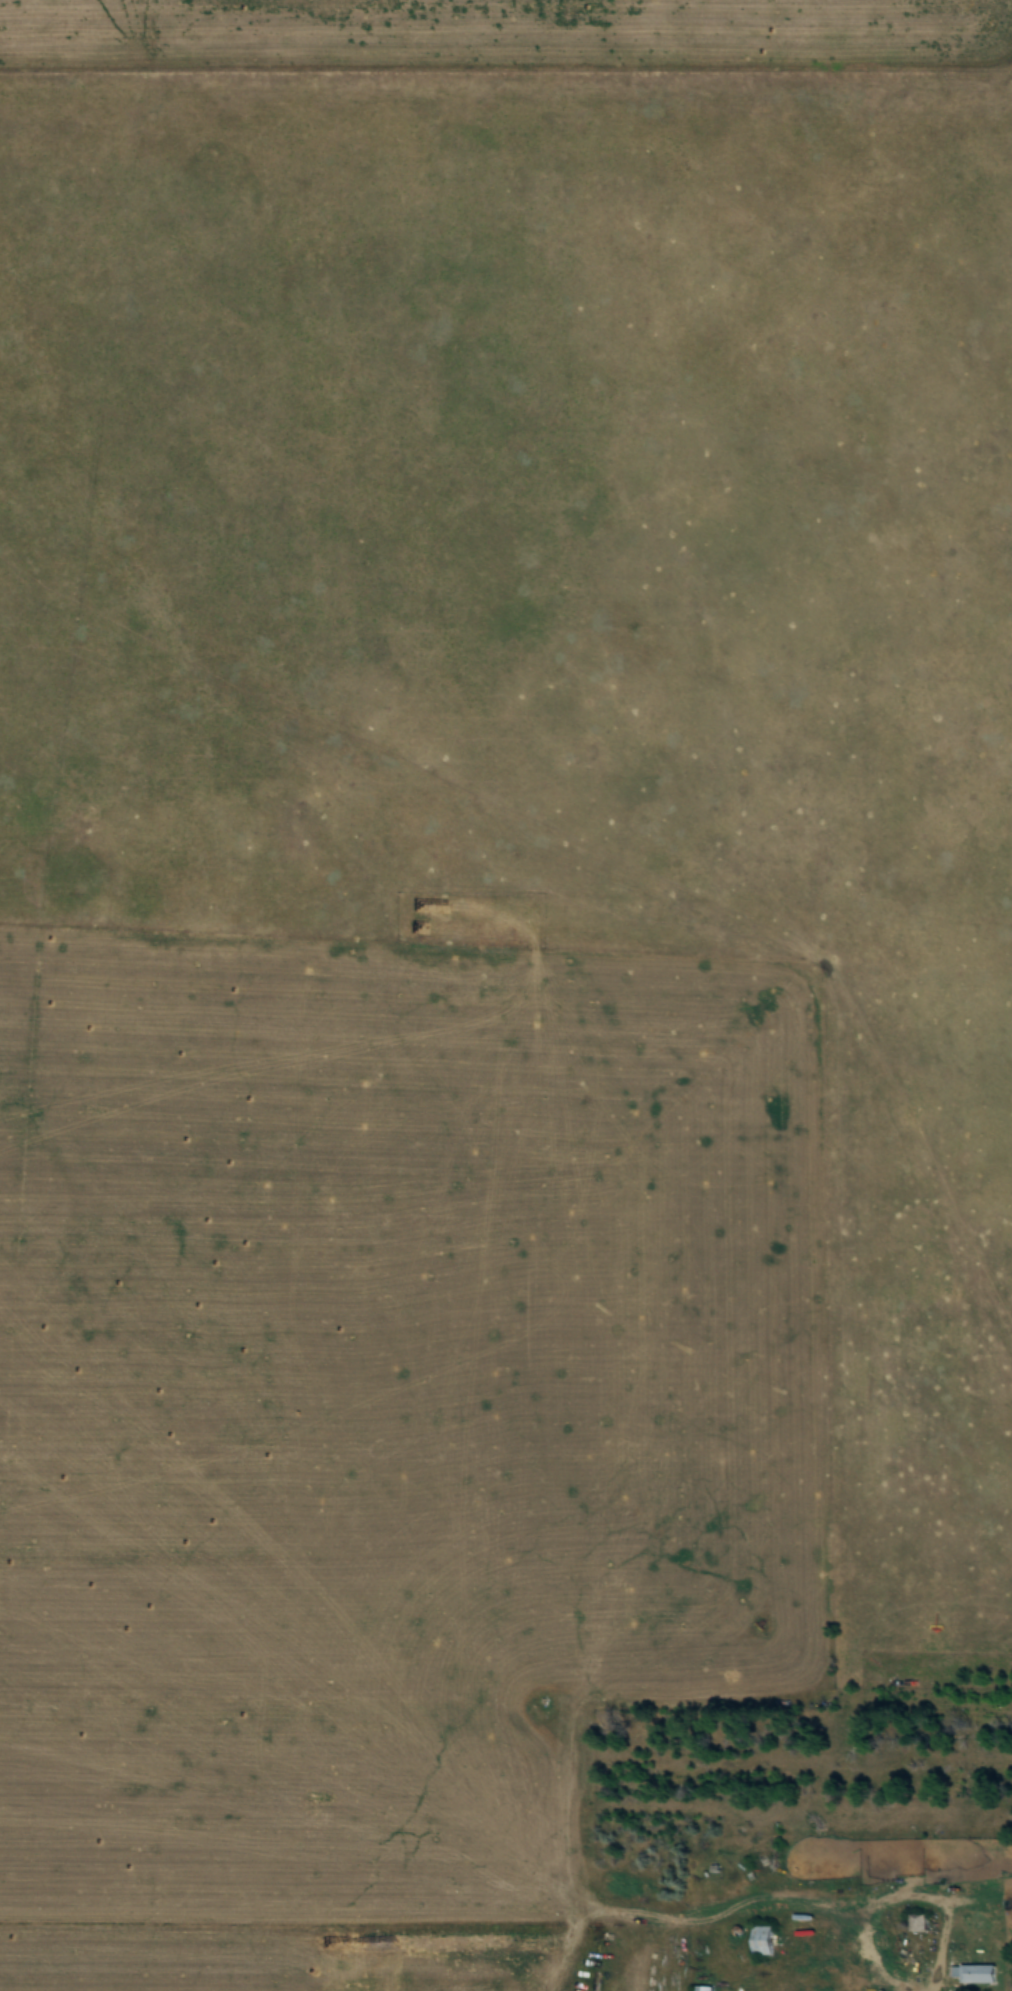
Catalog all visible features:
building: (912, 1921)
building: (759, 1941)
building: (936, 1964)
building: (951, 1971)
building: (973, 1974)
building: (698, 1988)

